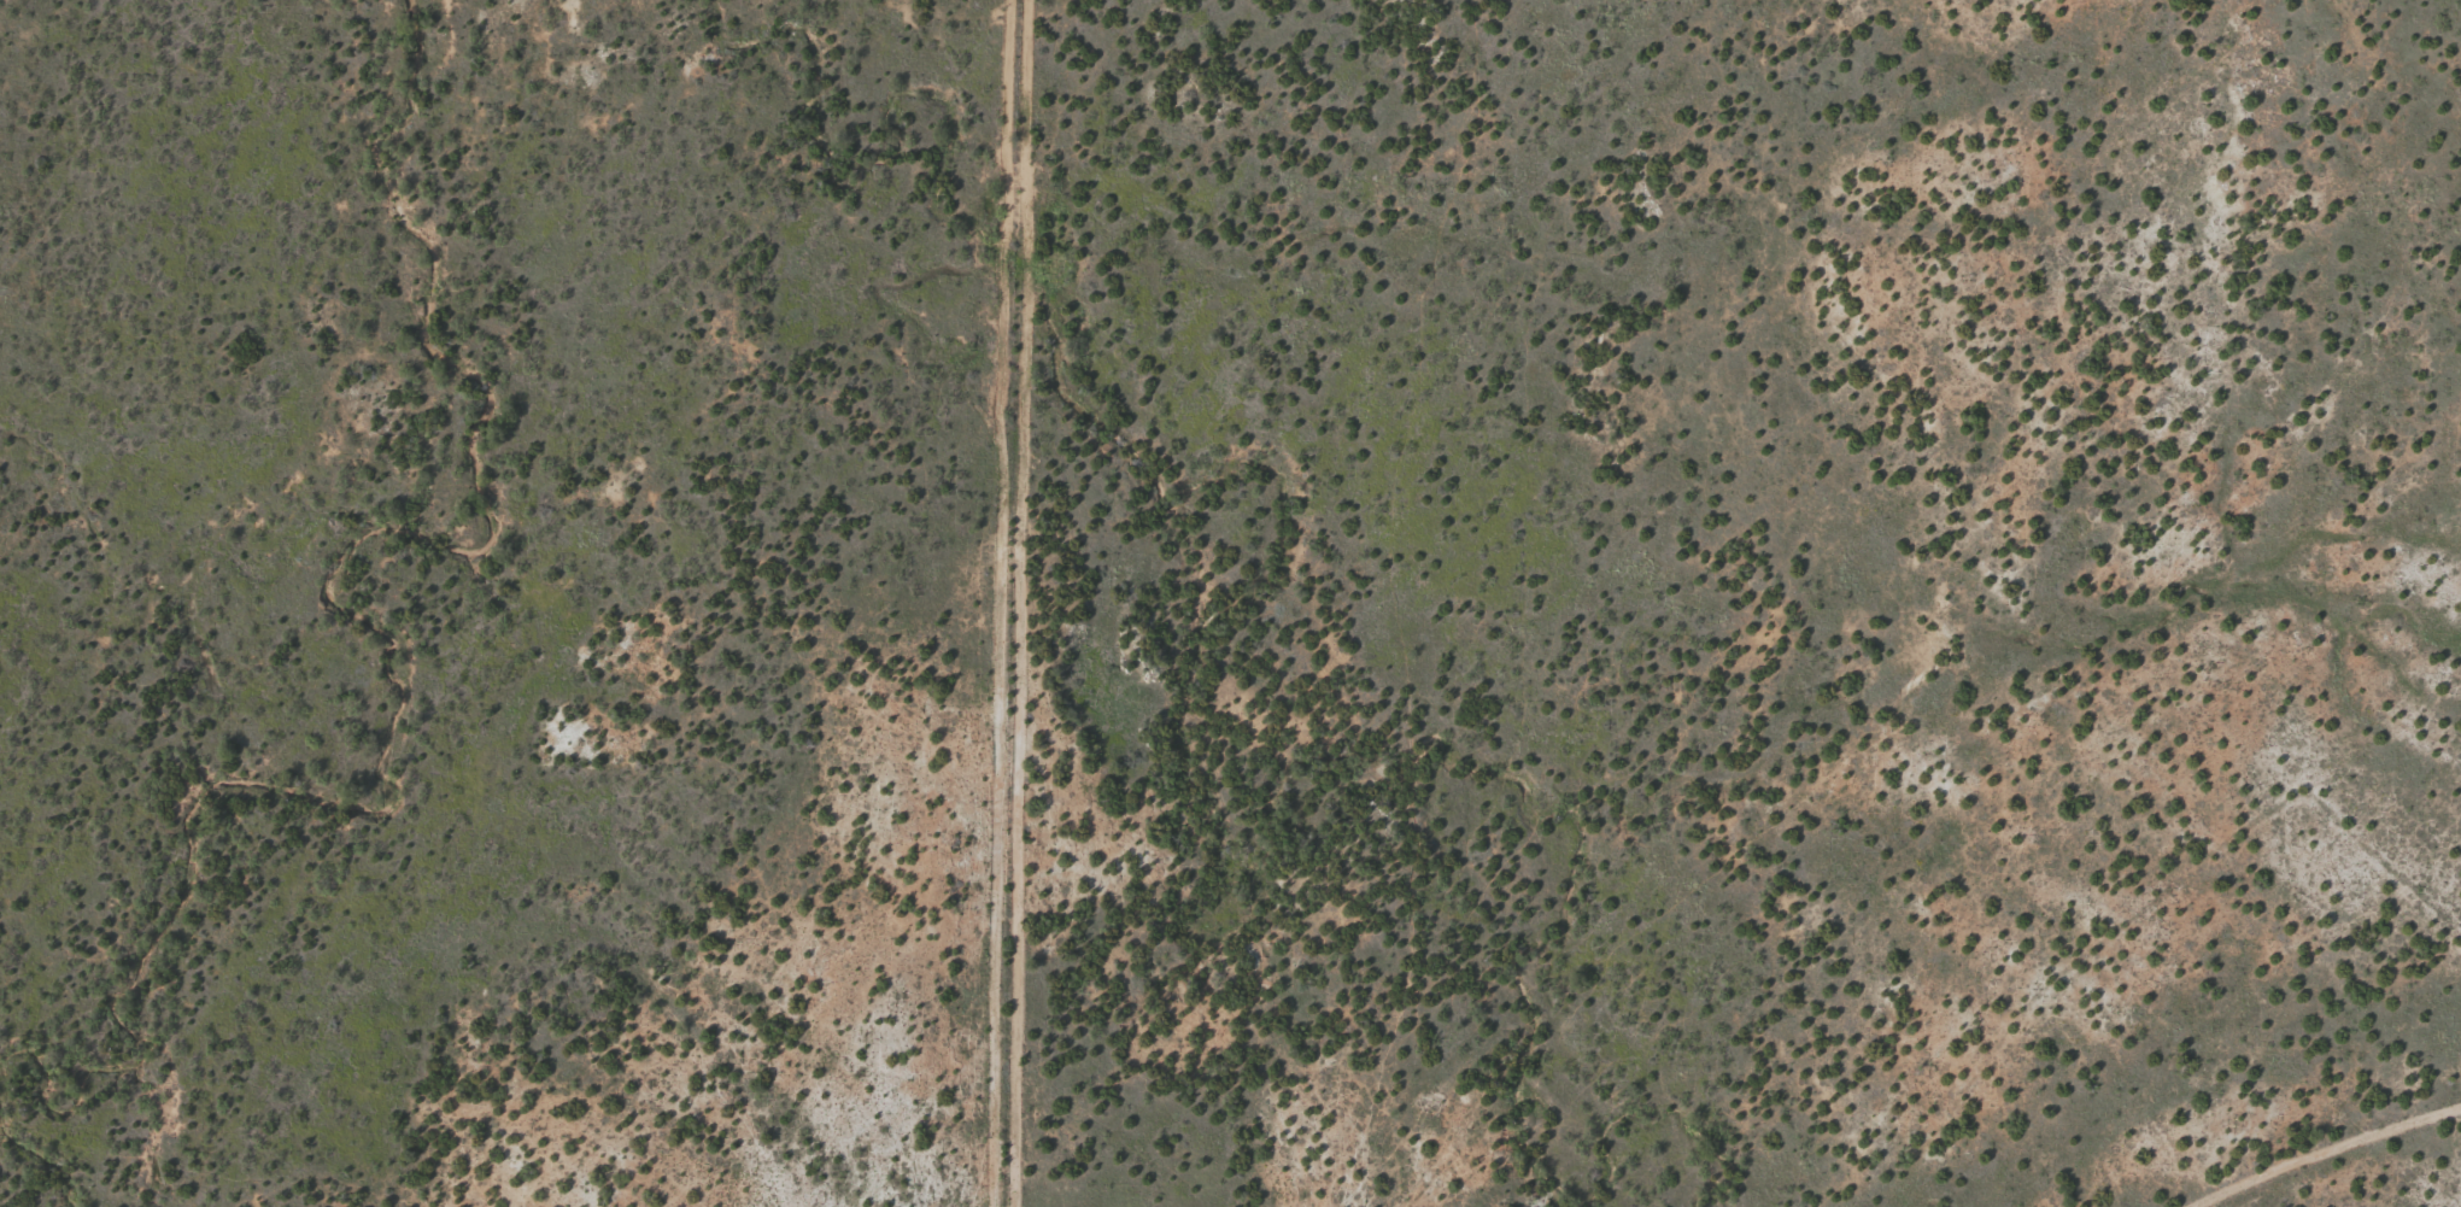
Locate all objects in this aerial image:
road: (2368, 1178)

